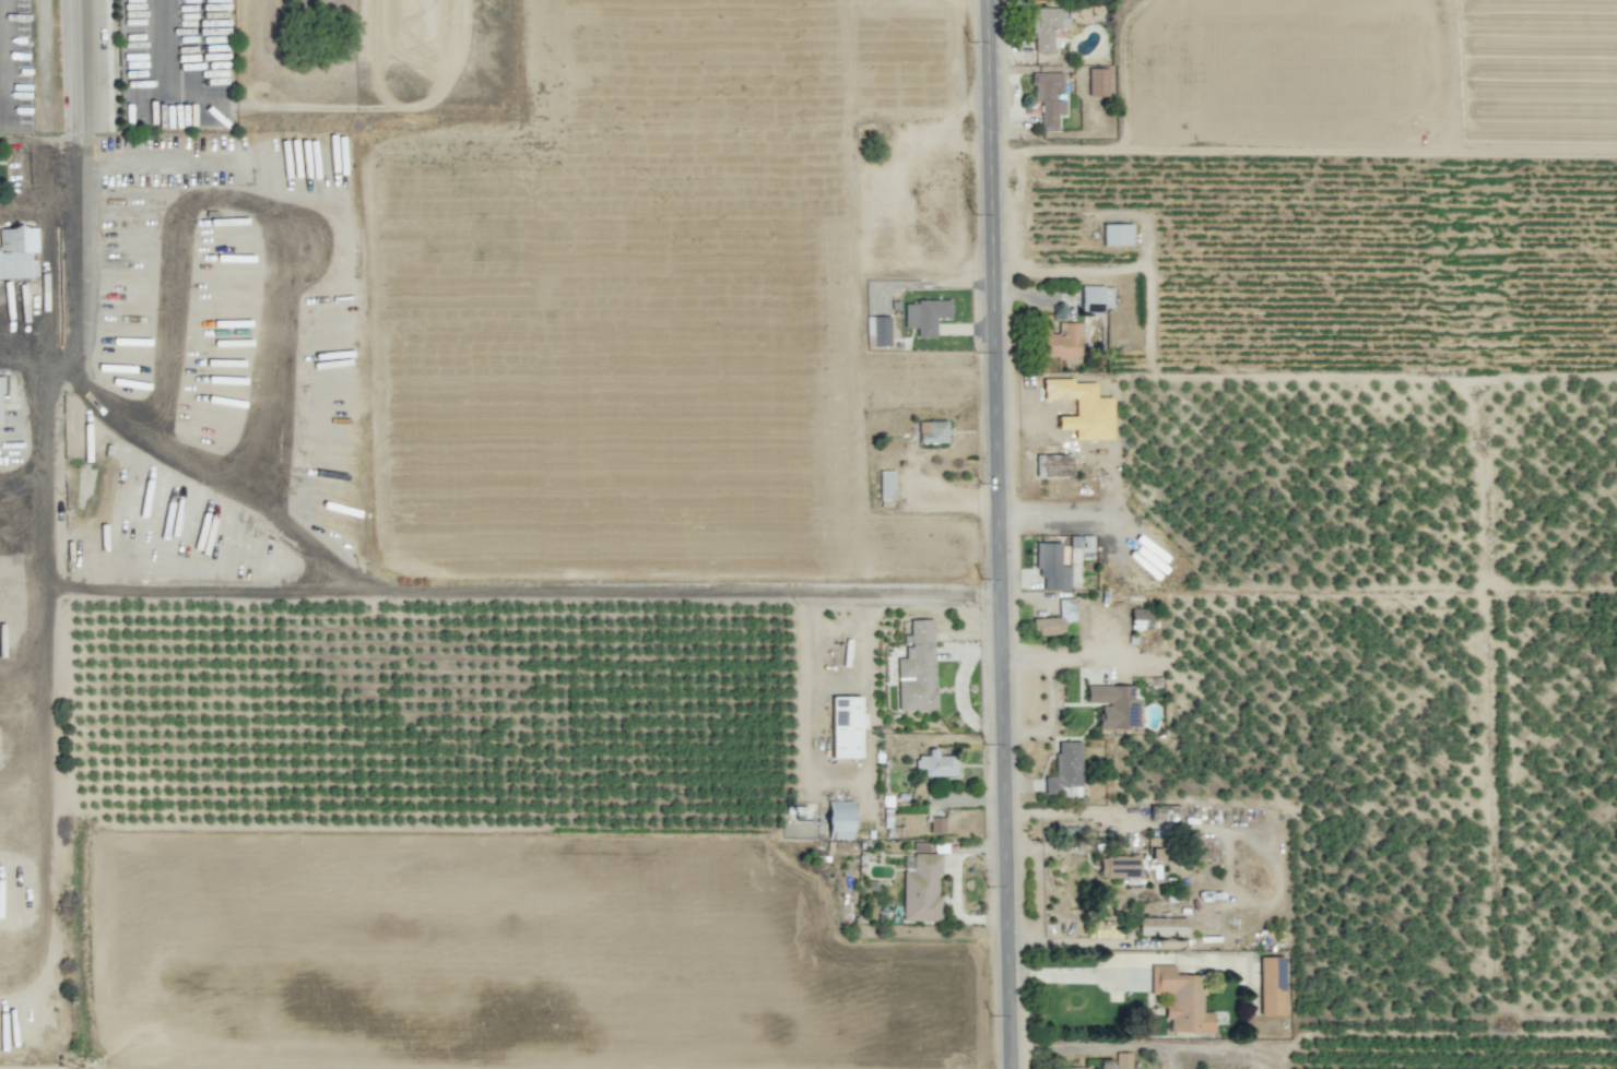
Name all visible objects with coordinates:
building: (1047, 26)
road: (155, 45)
road: (73, 62)
building: (1098, 82)
building: (1048, 97)
road: (193, 158)
road: (37, 202)
road: (74, 235)
building: (1116, 235)
building: (17, 252)
building: (1096, 298)
road: (293, 312)
building: (925, 316)
road: (184, 325)
building: (878, 330)
building: (1059, 341)
road: (21, 361)
road: (60, 363)
building: (0, 397)
building: (1082, 408)
building: (932, 431)
building: (1055, 465)
road: (42, 478)
building: (885, 485)
road: (227, 496)
road: (1001, 534)
road: (1001, 534)
railway: (1296, 534)
building: (1051, 567)
road: (682, 584)
road: (206, 590)
building: (1140, 618)
building: (1054, 619)
building: (917, 669)
building: (1113, 704)
building: (845, 726)
building: (936, 764)
building: (1065, 771)
road: (42, 791)
building: (1165, 812)
building: (839, 819)
building: (936, 825)
building: (1155, 850)
building: (1119, 866)
building: (920, 888)
building: (1162, 926)
road: (1172, 955)
building: (1271, 986)
building: (1181, 999)
building: (1122, 1060)
building: (1072, 1068)

